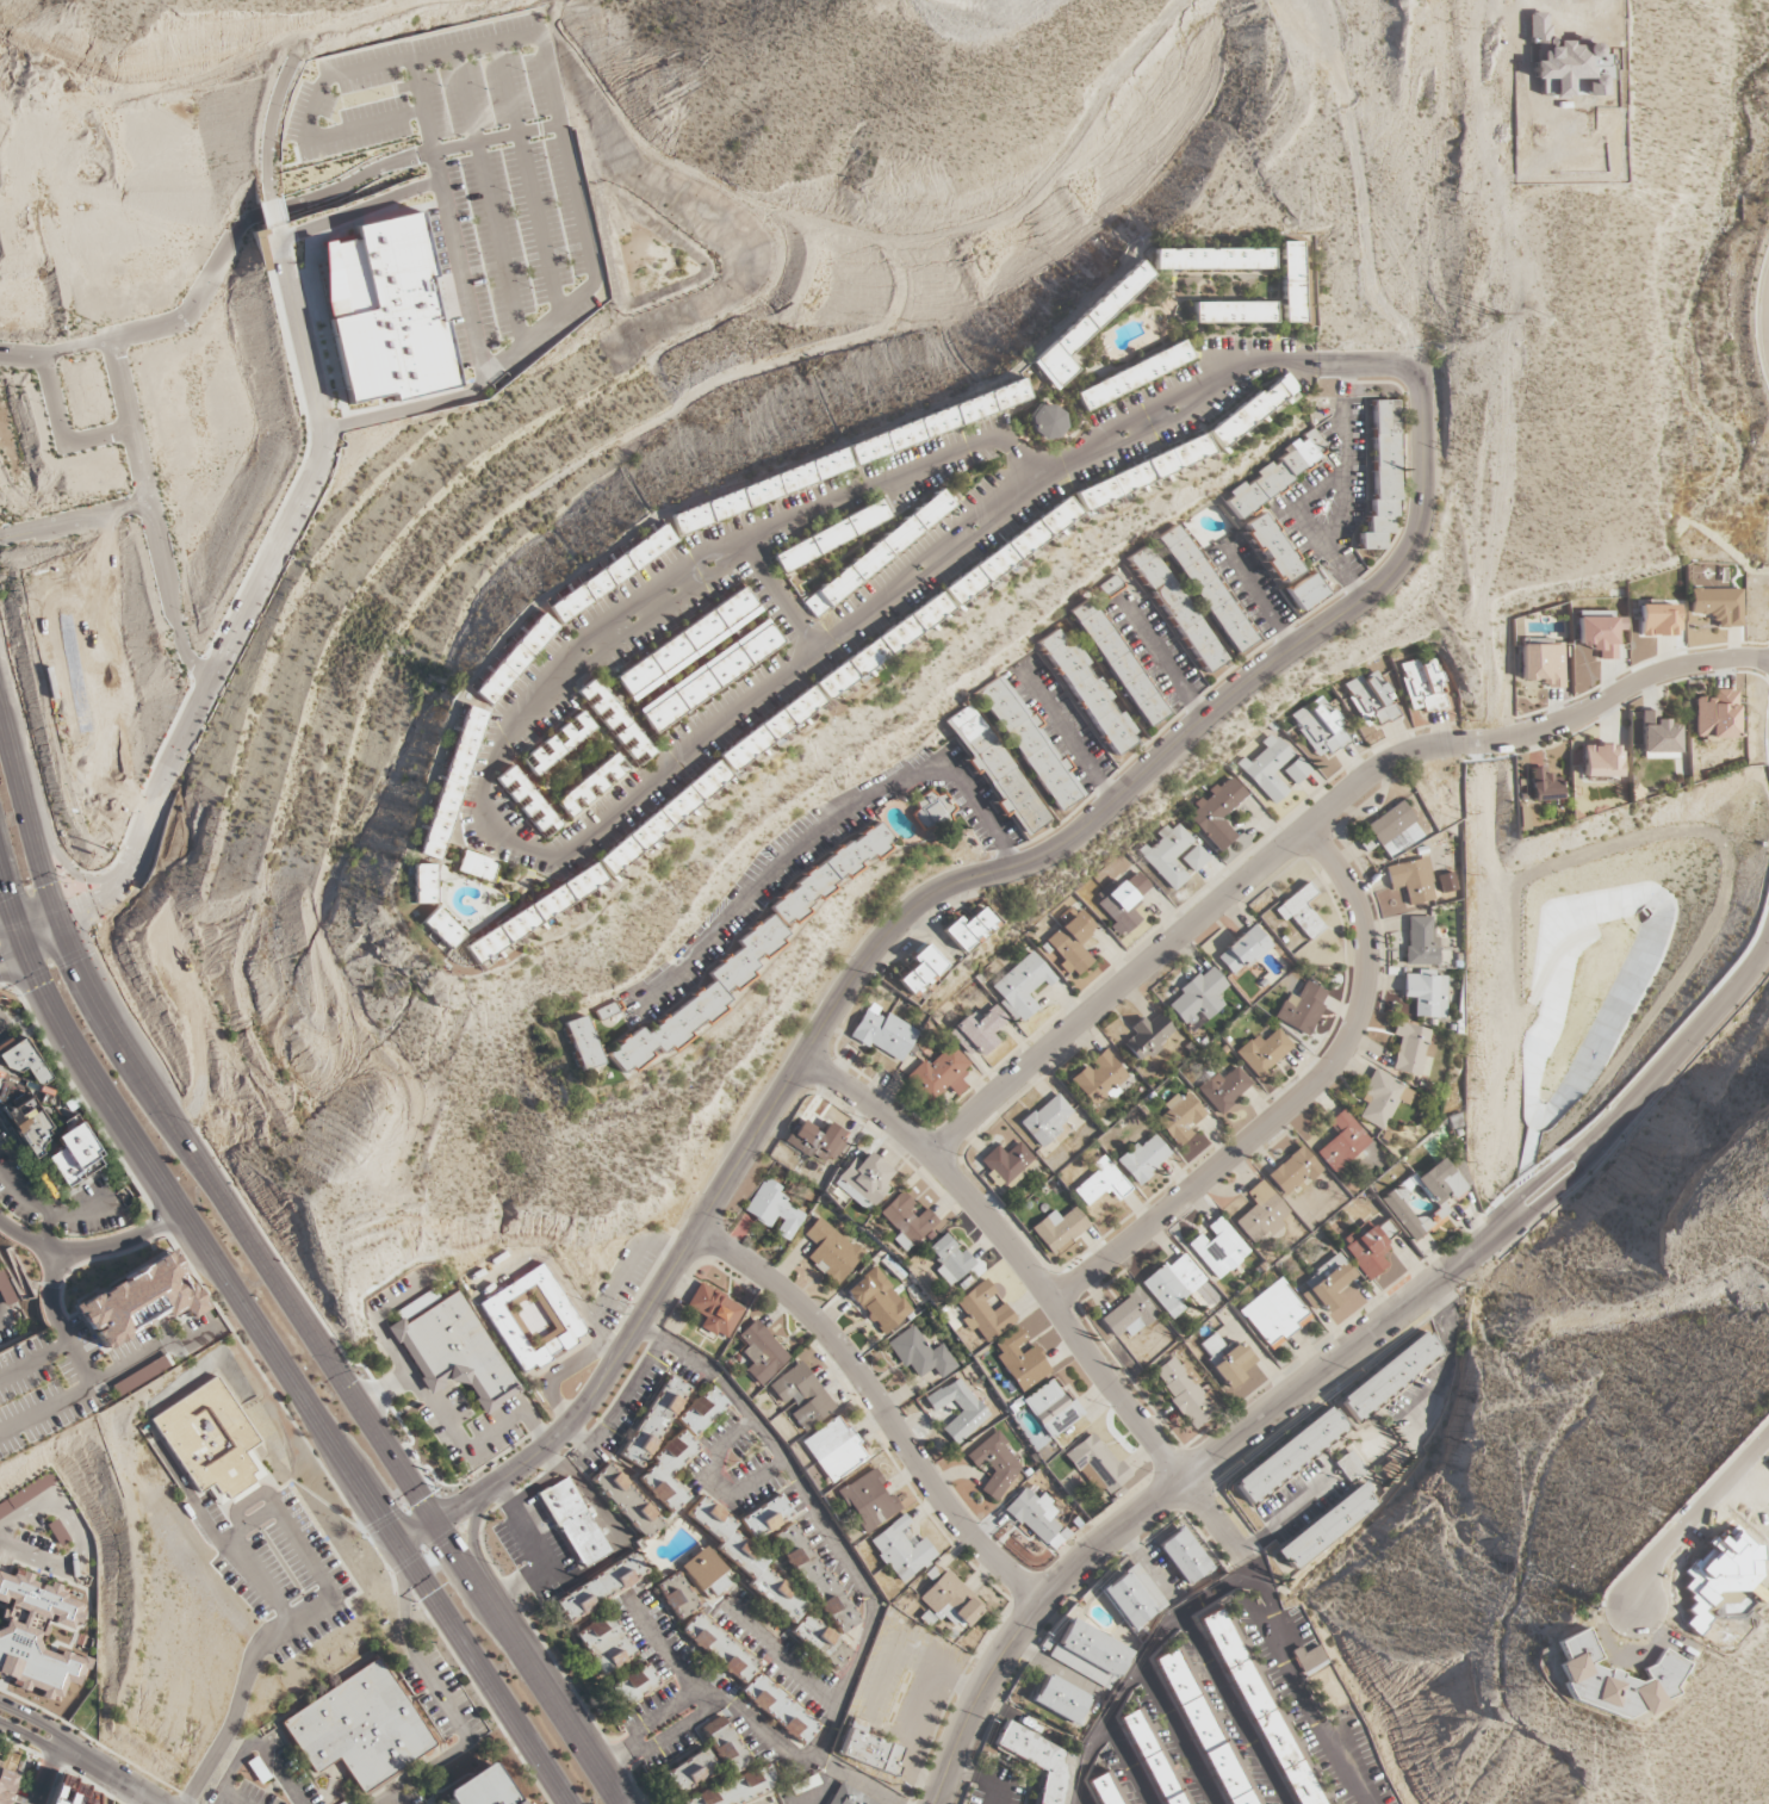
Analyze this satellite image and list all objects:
building: (1566, 62)
road: (269, 128)
road: (291, 206)
road: (273, 212)
building: (1212, 259)
building: (1291, 281)
building: (383, 312)
building: (1233, 312)
road: (1767, 317)
building: (1084, 328)
road: (1768, 333)
road: (1224, 373)
building: (1132, 376)
building: (1250, 409)
building: (1045, 422)
road: (61, 432)
building: (1279, 471)
building: (1142, 472)
building: (1382, 473)
road: (1304, 501)
road: (1340, 512)
road: (149, 514)
road: (73, 520)
road: (281, 537)
building: (830, 537)
building: (1270, 547)
building: (1010, 551)
building: (877, 553)
building: (610, 574)
building: (1206, 589)
building: (1305, 593)
road: (780, 595)
road: (1260, 601)
building: (1718, 605)
building: (1177, 608)
road: (228, 612)
building: (1657, 620)
building: (1599, 632)
building: (687, 644)
building: (877, 650)
building: (515, 659)
road: (1162, 661)
building: (1541, 662)
building: (1117, 663)
building: (708, 676)
building: (1424, 686)
building: (1090, 695)
building: (1372, 699)
building: (1715, 715)
building: (614, 721)
building: (1321, 727)
building: (769, 729)
road: (1070, 738)
building: (1657, 738)
building: (559, 742)
building: (1029, 745)
building: (1601, 761)
building: (1268, 768)
building: (995, 770)
building: (1297, 770)
building: (452, 783)
building: (591, 785)
building: (1543, 786)
building: (527, 802)
road: (486, 804)
building: (932, 811)
building: (1217, 813)
building: (660, 820)
building: (1389, 823)
road: (1310, 826)
road: (826, 830)
road: (144, 841)
building: (1365, 842)
building: (1168, 855)
building: (1194, 858)
building: (477, 866)
road: (42, 869)
road: (74, 874)
building: (827, 874)
building: (1411, 880)
traffic signals: (48, 884)
building: (423, 884)
building: (1123, 904)
building: (1299, 912)
building: (534, 913)
road: (33, 915)
road: (901, 918)
traffic signals: (88, 919)
road: (6, 923)
building: (442, 928)
building: (968, 930)
road: (45, 942)
building: (1420, 942)
building: (1069, 944)
building: (1243, 949)
road: (12, 956)
building: (920, 971)
traffic signals: (39, 985)
building: (1022, 985)
building: (1426, 994)
building: (699, 998)
building: (1198, 998)
building: (1301, 1008)
building: (609, 1015)
building: (977, 1031)
building: (883, 1034)
building: (1147, 1036)
building: (583, 1042)
building: (1411, 1049)
building: (1262, 1053)
building: (23, 1061)
building: (0, 1074)
building: (939, 1074)
building: (1098, 1078)
building: (1223, 1089)
road: (1638, 1095)
building: (1382, 1098)
road: (1292, 1103)
building: (1179, 1117)
building: (1047, 1120)
building: (30, 1126)
building: (815, 1141)
building: (1341, 1142)
building: (50, 1148)
building: (76, 1155)
building: (1142, 1159)
building: (1006, 1161)
building: (1292, 1171)
building: (863, 1180)
building: (1100, 1183)
building: (1439, 1183)
building: (774, 1210)
building: (1260, 1213)
building: (1404, 1214)
building: (906, 1221)
building: (1057, 1229)
building: (1385, 1229)
building: (1217, 1248)
road: (92, 1250)
building: (831, 1250)
building: (1365, 1250)
building: (948, 1259)
road: (188, 1264)
building: (1326, 1284)
building: (1178, 1287)
building: (6, 1290)
road: (1042, 1295)
building: (139, 1300)
building: (879, 1301)
building: (714, 1310)
building: (983, 1312)
building: (1274, 1314)
building: (1128, 1315)
building: (532, 1320)
road: (56, 1323)
road: (272, 1347)
building: (452, 1350)
building: (761, 1353)
road: (1453, 1353)
building: (920, 1354)
building: (1225, 1358)
building: (1020, 1359)
road: (35, 1363)
building: (141, 1375)
building: (1389, 1375)
road: (113, 1376)
building: (1185, 1391)
building: (801, 1395)
road: (620, 1405)
building: (970, 1406)
road: (879, 1407)
building: (1051, 1408)
building: (702, 1411)
road: (366, 1414)
building: (653, 1422)
building: (210, 1442)
building: (833, 1449)
building: (1287, 1455)
building: (994, 1464)
building: (1095, 1465)
building: (1349, 1465)
building: (668, 1473)
road: (1175, 1487)
building: (27, 1495)
building: (868, 1500)
building: (626, 1501)
traffic signals: (457, 1511)
road: (274, 1513)
traffic signals: (380, 1514)
road: (1287, 1514)
road: (1690, 1515)
building: (765, 1517)
building: (1037, 1518)
building: (572, 1523)
building: (1327, 1526)
building: (504, 1536)
traffic signals: (452, 1542)
road: (840, 1548)
building: (901, 1550)
road: (476, 1551)
building: (1183, 1557)
building: (744, 1558)
road: (1146, 1561)
road: (1252, 1566)
building: (707, 1575)
building: (815, 1579)
road: (1234, 1581)
building: (601, 1587)
building: (676, 1597)
building: (1131, 1598)
building: (950, 1601)
building: (36, 1611)
road: (1260, 1624)
building: (821, 1642)
building: (604, 1644)
building: (1088, 1654)
building: (1310, 1659)
building: (31, 1673)
building: (747, 1679)
building: (1613, 1680)
building: (634, 1685)
building: (1059, 1700)
road: (1230, 1709)
road: (235, 1710)
building: (1260, 1710)
road: (35, 1722)
building: (358, 1728)
building: (1206, 1731)
road: (1177, 1732)
road: (29, 1736)
building: (725, 1746)
building: (868, 1749)
road: (267, 1757)
building: (1154, 1759)
building: (1039, 1760)
road: (1129, 1761)
building: (690, 1772)
road: (108, 1775)
road: (46, 1777)
building: (484, 1787)
building: (6, 1790)
road: (219, 1790)
building: (737, 1790)
building: (1110, 1790)
building: (73, 1793)
building: (849, 1797)
road: (385, 1798)

